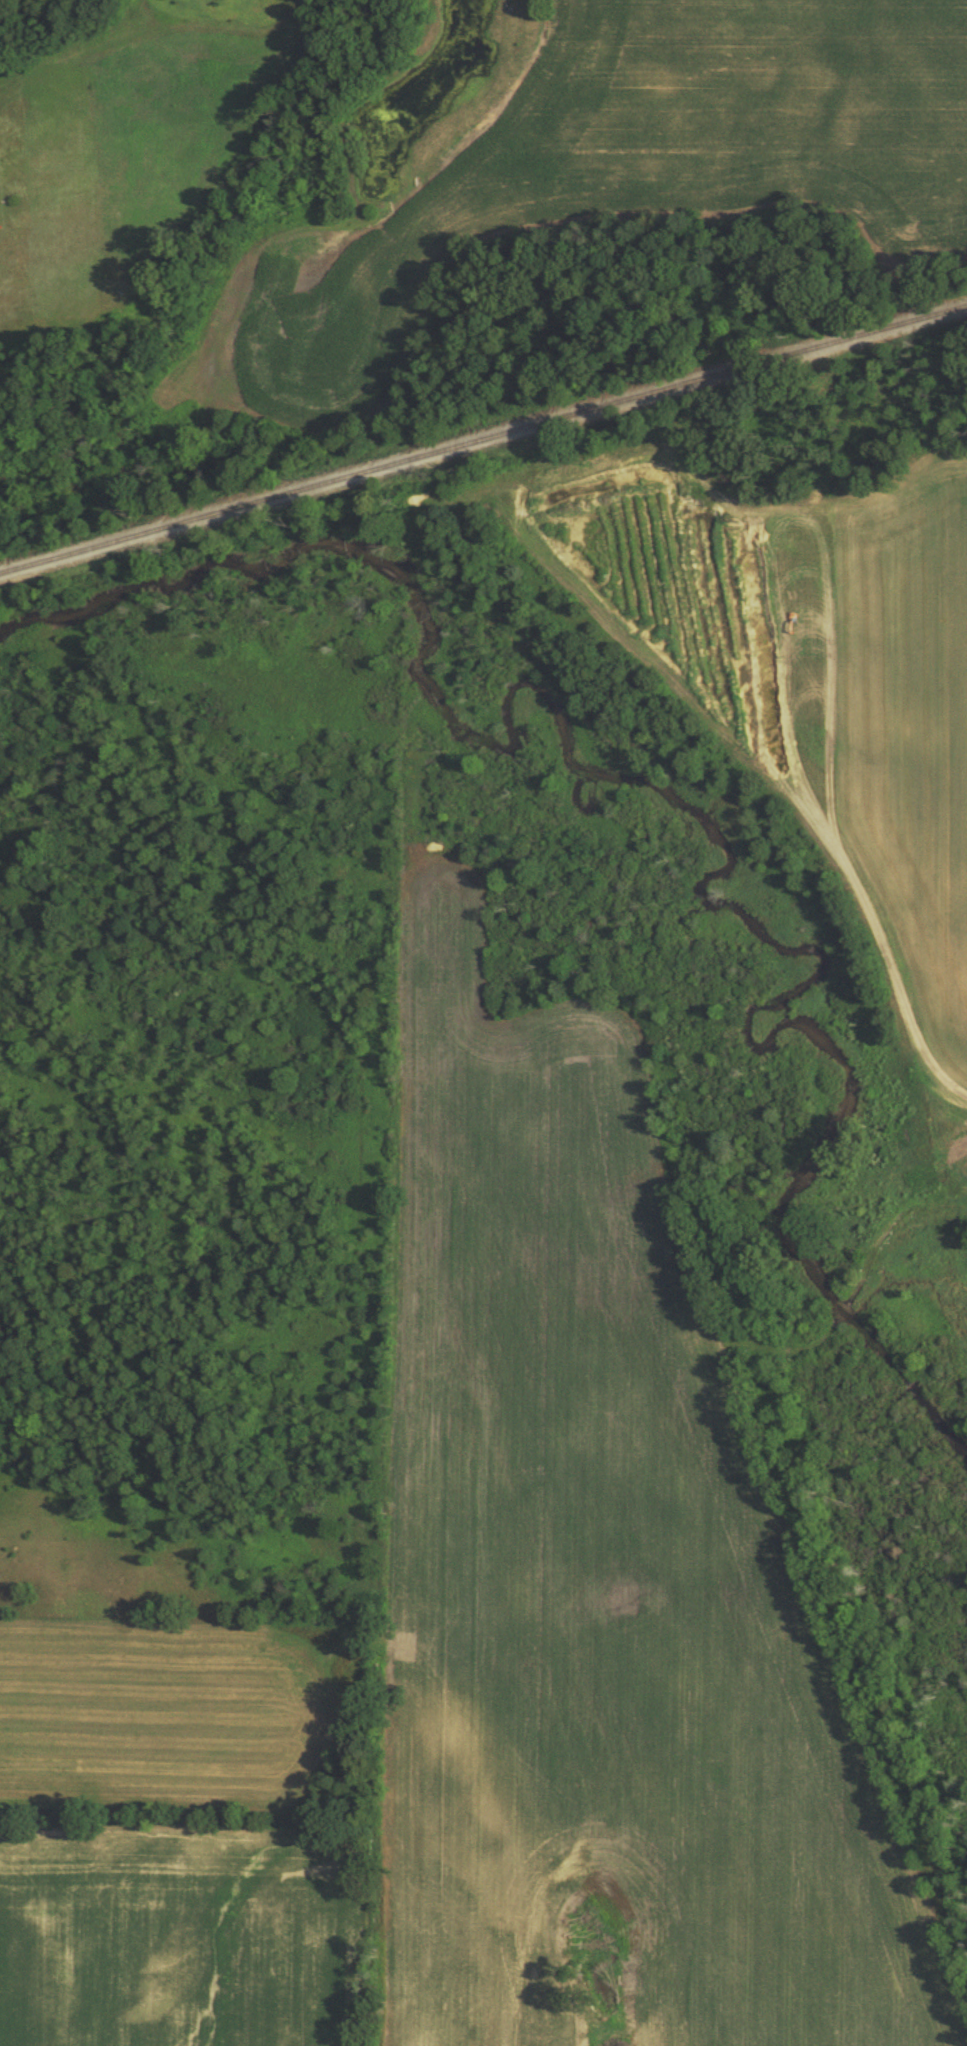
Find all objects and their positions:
railway: (483, 440)

